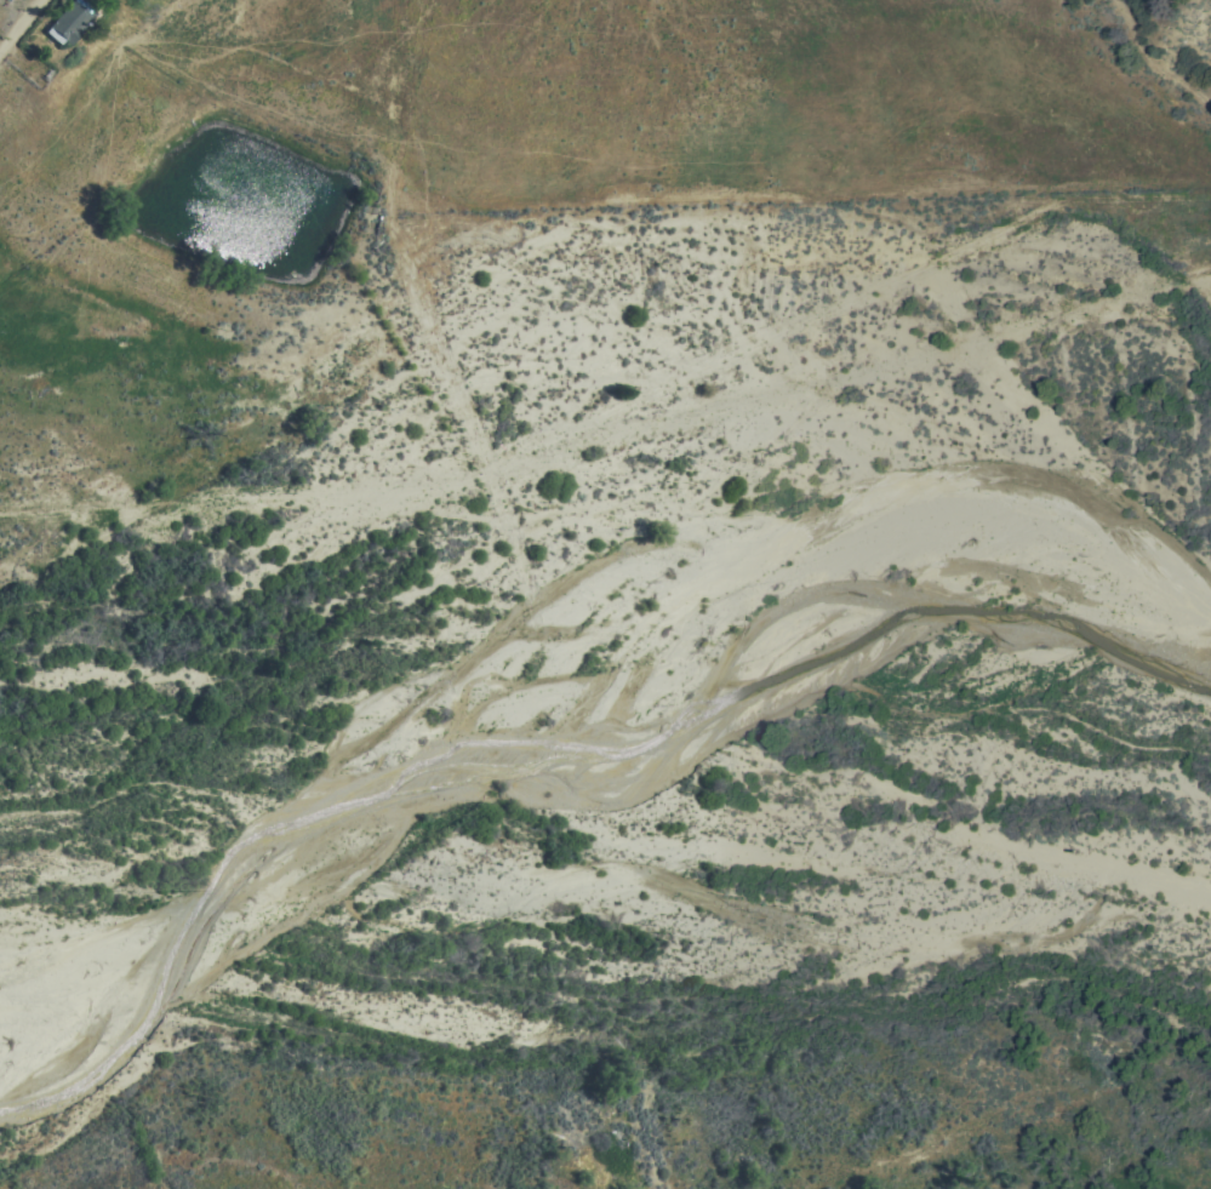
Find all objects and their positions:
building: (69, 21)
river: (215, 668)
river: (1056, 804)
river: (657, 819)

